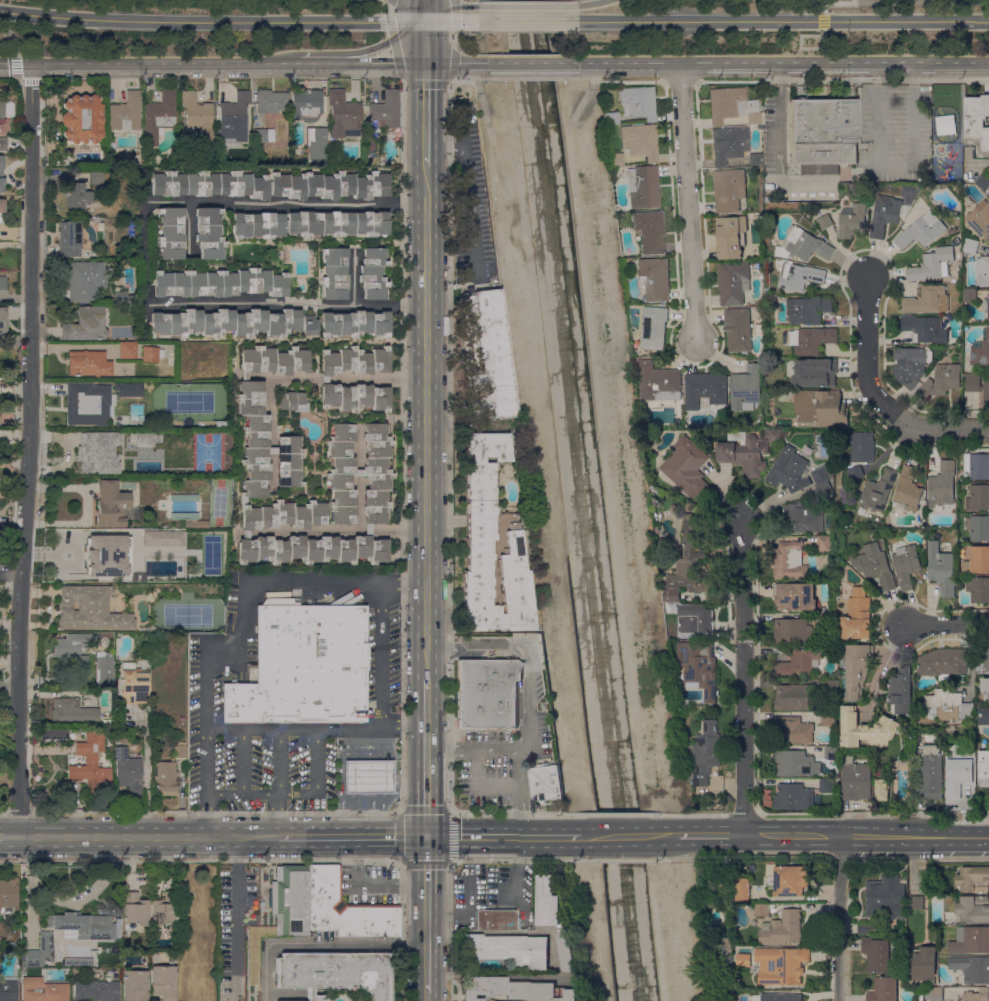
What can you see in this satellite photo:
road: (921, 1)
road: (834, 2)
road: (593, 3)
road: (425, 6)
road: (527, 6)
road: (449, 9)
road: (453, 14)
road: (424, 16)
traffic signals: (424, 20)
road: (823, 20)
road: (424, 25)
road: (13, 38)
road: (453, 39)
road: (800, 41)
road: (424, 46)
road: (343, 52)
traffic signals: (425, 62)
road: (783, 62)
road: (8, 63)
road: (453, 63)
road: (530, 63)
road: (220, 64)
traffic signals: (31, 65)
road: (824, 65)
road: (17, 67)
road: (557, 77)
road: (402, 79)
road: (31, 80)
road: (841, 80)
road: (679, 81)
building: (272, 102)
building: (638, 103)
building: (307, 106)
building: (732, 106)
building: (2, 109)
building: (386, 109)
building: (125, 113)
building: (343, 113)
road: (424, 113)
road: (877, 113)
building: (160, 116)
building: (198, 117)
building: (234, 117)
building: (610, 118)
building: (977, 118)
building: (82, 119)
building: (822, 136)
building: (263, 137)
building: (640, 141)
building: (316, 143)
building: (2, 144)
building: (729, 145)
building: (616, 159)
building: (756, 159)
road: (983, 163)
building: (2, 172)
building: (96, 176)
road: (836, 179)
building: (983, 180)
building: (270, 185)
building: (643, 187)
building: (729, 189)
building: (909, 192)
road: (468, 193)
building: (77, 198)
road: (687, 200)
road: (233, 202)
building: (2, 205)
building: (885, 214)
building: (624, 216)
building: (980, 218)
building: (852, 220)
building: (825, 221)
building: (310, 224)
building: (618, 226)
road: (189, 227)
building: (921, 230)
building: (650, 231)
building: (171, 233)
building: (209, 233)
building: (731, 236)
building: (69, 239)
building: (803, 244)
building: (971, 245)
building: (932, 264)
building: (982, 271)
building: (334, 273)
building: (373, 274)
building: (800, 276)
road: (353, 277)
building: (654, 278)
building: (85, 281)
building: (733, 282)
building: (3, 283)
building: (219, 283)
building: (969, 295)
building: (122, 298)
building: (928, 300)
road: (291, 304)
building: (986, 305)
building: (809, 309)
building: (2, 320)
building: (225, 323)
building: (355, 324)
building: (86, 325)
building: (310, 325)
building: (654, 327)
building: (925, 328)
building: (738, 329)
building: (775, 329)
building: (810, 339)
building: (126, 350)
building: (981, 350)
road: (867, 352)
building: (151, 354)
building: (486, 356)
building: (274, 360)
building: (353, 361)
building: (87, 364)
building: (911, 364)
building: (815, 372)
building: (244, 376)
building: (323, 379)
road: (323, 379)
road: (376, 379)
building: (940, 381)
building: (659, 382)
building: (978, 386)
road: (271, 388)
building: (746, 388)
building: (129, 390)
building: (705, 390)
building: (353, 396)
building: (294, 402)
building: (91, 403)
building: (818, 407)
building: (0, 419)
road: (602, 420)
road: (426, 423)
building: (222, 425)
road: (531, 426)
road: (942, 428)
building: (47, 432)
building: (253, 438)
building: (861, 447)
building: (748, 449)
road: (27, 450)
building: (100, 450)
building: (270, 450)
road: (272, 450)
building: (286, 461)
building: (978, 465)
building: (788, 466)
building: (686, 467)
road: (272, 469)
building: (856, 472)
building: (341, 473)
building: (359, 473)
building: (376, 473)
building: (820, 474)
building: (942, 487)
building: (823, 489)
building: (907, 489)
building: (879, 490)
building: (978, 497)
building: (184, 499)
building: (242, 502)
road: (449, 503)
building: (111, 505)
building: (284, 516)
building: (801, 517)
building: (190, 520)
building: (977, 527)
road: (399, 528)
road: (368, 529)
building: (368, 530)
road: (309, 531)
building: (246, 535)
building: (480, 535)
building: (145, 538)
road: (403, 543)
building: (232, 548)
building: (313, 549)
building: (824, 554)
building: (114, 557)
building: (978, 559)
building: (790, 561)
building: (689, 564)
building: (875, 565)
building: (906, 565)
building: (941, 568)
road: (10, 575)
road: (412, 582)
road: (321, 583)
road: (10, 587)
building: (978, 589)
road: (381, 593)
building: (795, 596)
road: (243, 608)
building: (91, 610)
building: (858, 615)
park: (188, 617)
building: (693, 617)
building: (825, 620)
road: (945, 622)
building: (793, 631)
building: (74, 644)
road: (224, 644)
building: (369, 644)
road: (478, 648)
building: (982, 657)
road: (381, 659)
building: (942, 662)
building: (798, 664)
building: (699, 666)
building: (303, 667)
road: (879, 668)
building: (857, 669)
building: (104, 670)
road: (742, 679)
building: (78, 680)
road: (8, 686)
building: (134, 686)
building: (832, 686)
building: (985, 689)
building: (901, 690)
building: (488, 694)
road: (530, 697)
building: (792, 697)
parking lot: (382, 702)
building: (949, 704)
building: (72, 712)
building: (983, 715)
building: (829, 717)
building: (182, 720)
road: (206, 723)
road: (413, 724)
road: (390, 725)
building: (918, 725)
building: (940, 727)
building: (867, 729)
road: (262, 730)
road: (356, 730)
building: (795, 730)
parking lot: (504, 732)
road: (478, 747)
building: (706, 752)
building: (830, 752)
road: (427, 759)
road: (242, 761)
road: (317, 761)
road: (278, 762)
building: (91, 763)
building: (795, 763)
building: (984, 767)
building: (881, 770)
building: (931, 770)
building: (128, 772)
building: (169, 772)
building: (958, 776)
building: (369, 777)
gas station: (369, 777)
building: (855, 779)
building: (545, 782)
building: (827, 785)
road: (478, 787)
building: (882, 789)
road: (519, 791)
road: (261, 793)
building: (794, 796)
road: (615, 813)
road: (704, 813)
road: (206, 815)
road: (276, 815)
road: (624, 835)
road: (706, 835)
road: (9, 836)
road: (154, 836)
road: (502, 836)
road: (867, 836)
road: (358, 837)
traffic signals: (426, 838)
road: (452, 861)
building: (974, 879)
building: (789, 880)
road: (369, 885)
parking lot: (364, 886)
building: (742, 888)
building: (8, 894)
building: (885, 896)
building: (547, 901)
building: (916, 901)
building: (288, 903)
road: (233, 907)
building: (973, 907)
building: (164, 909)
building: (761, 909)
building: (134, 911)
building: (345, 911)
road: (426, 915)
road: (838, 918)
building: (495, 920)
building: (83, 926)
building: (784, 928)
building: (867, 928)
building: (970, 939)
road: (599, 942)
road: (660, 942)
road: (322, 945)
building: (509, 950)
building: (39, 951)
building: (567, 951)
building: (876, 952)
building: (728, 953)
building: (254, 956)
building: (743, 959)
building: (924, 963)
building: (781, 965)
building: (972, 968)
building: (336, 973)
building: (164, 982)
building: (136, 985)
building: (41, 987)
building: (884, 989)
building: (8, 990)
building: (96, 990)
building: (516, 990)
building: (934, 993)
building: (977, 994)
road: (426, 997)
building: (783, 997)
building: (723, 1000)

